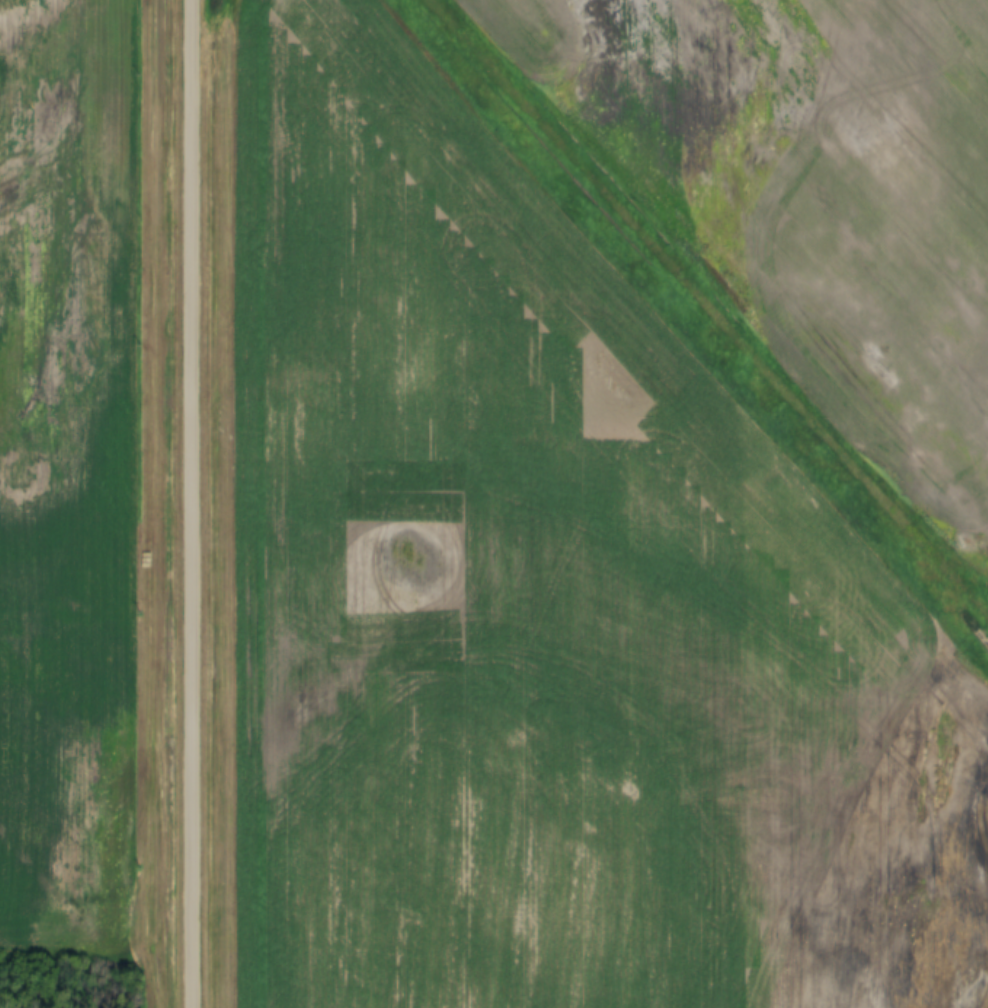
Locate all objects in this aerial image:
road: (198, 503)

